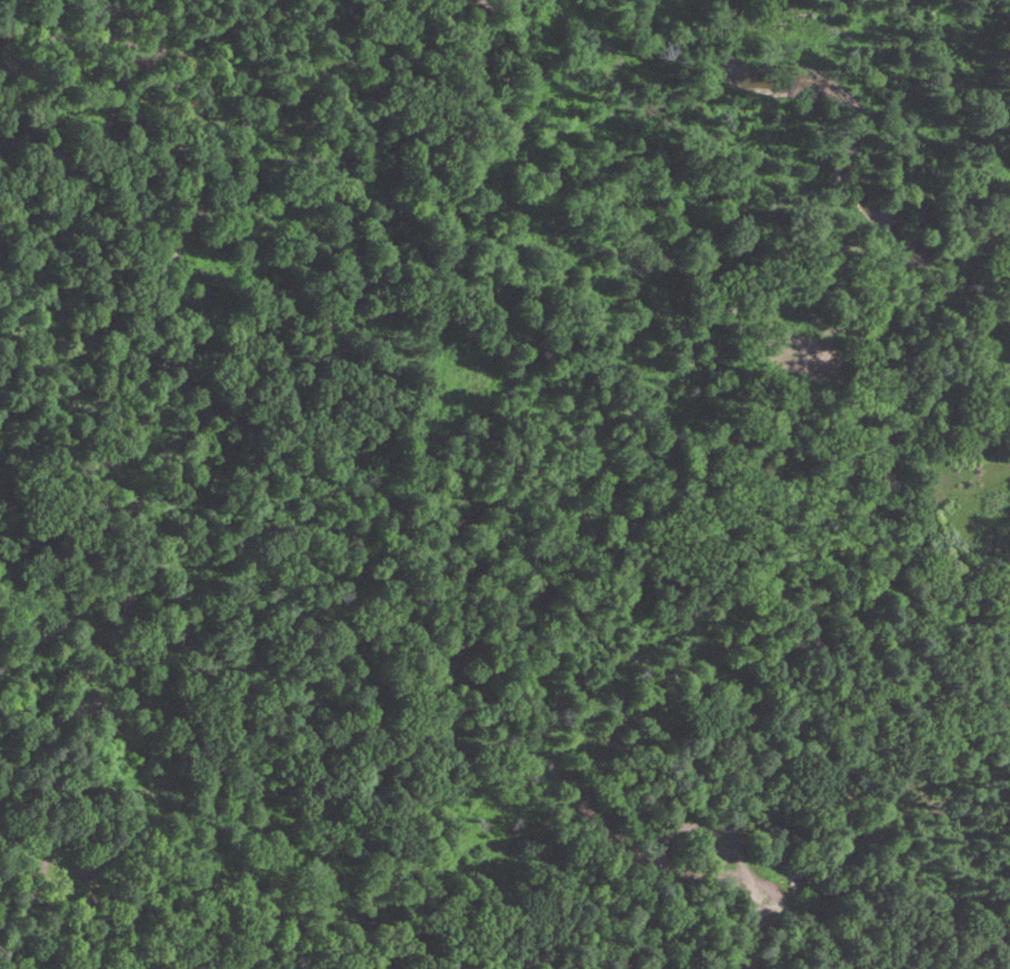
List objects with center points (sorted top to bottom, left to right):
park: (1008, 31)
river: (849, 145)

